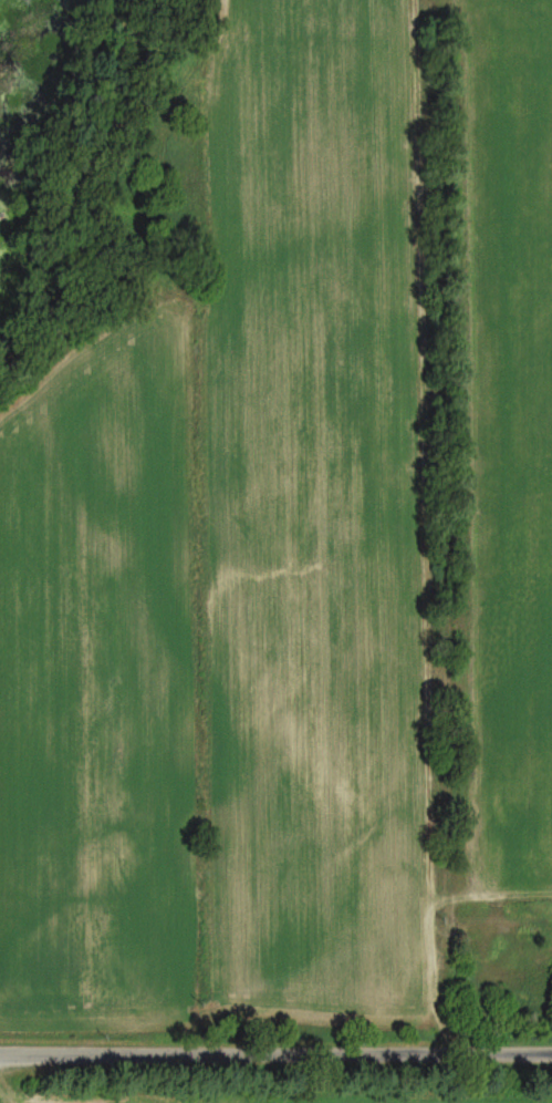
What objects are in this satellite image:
road: (275, 1048)
crop: (510, 1102)

